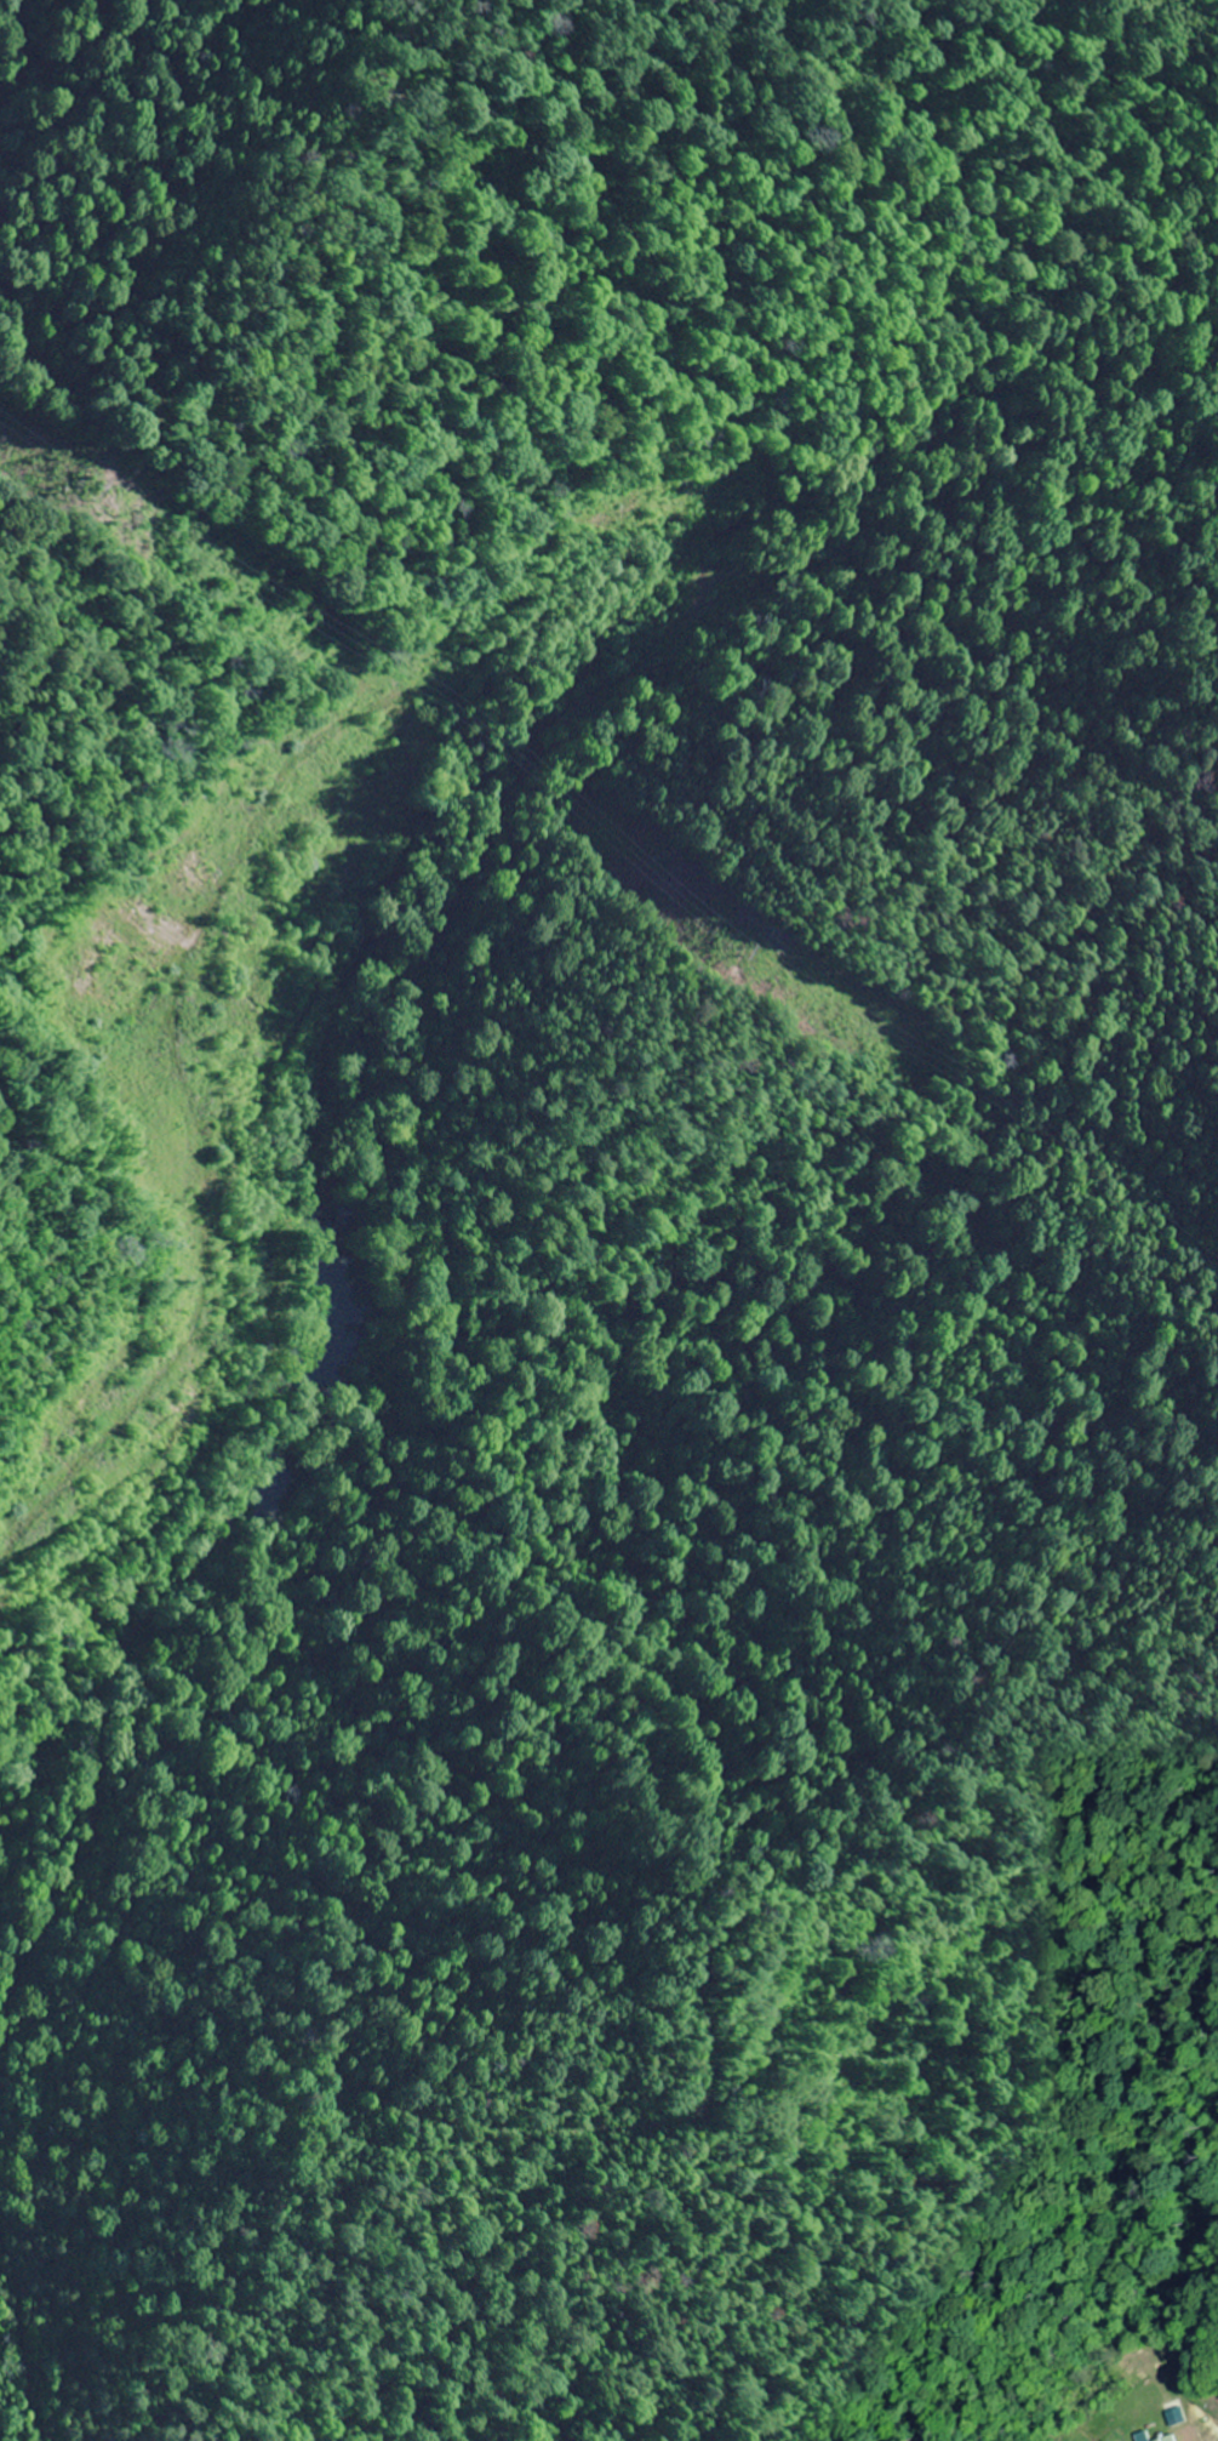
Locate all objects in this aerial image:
building: (1142, 2436)
building: (1168, 2439)

